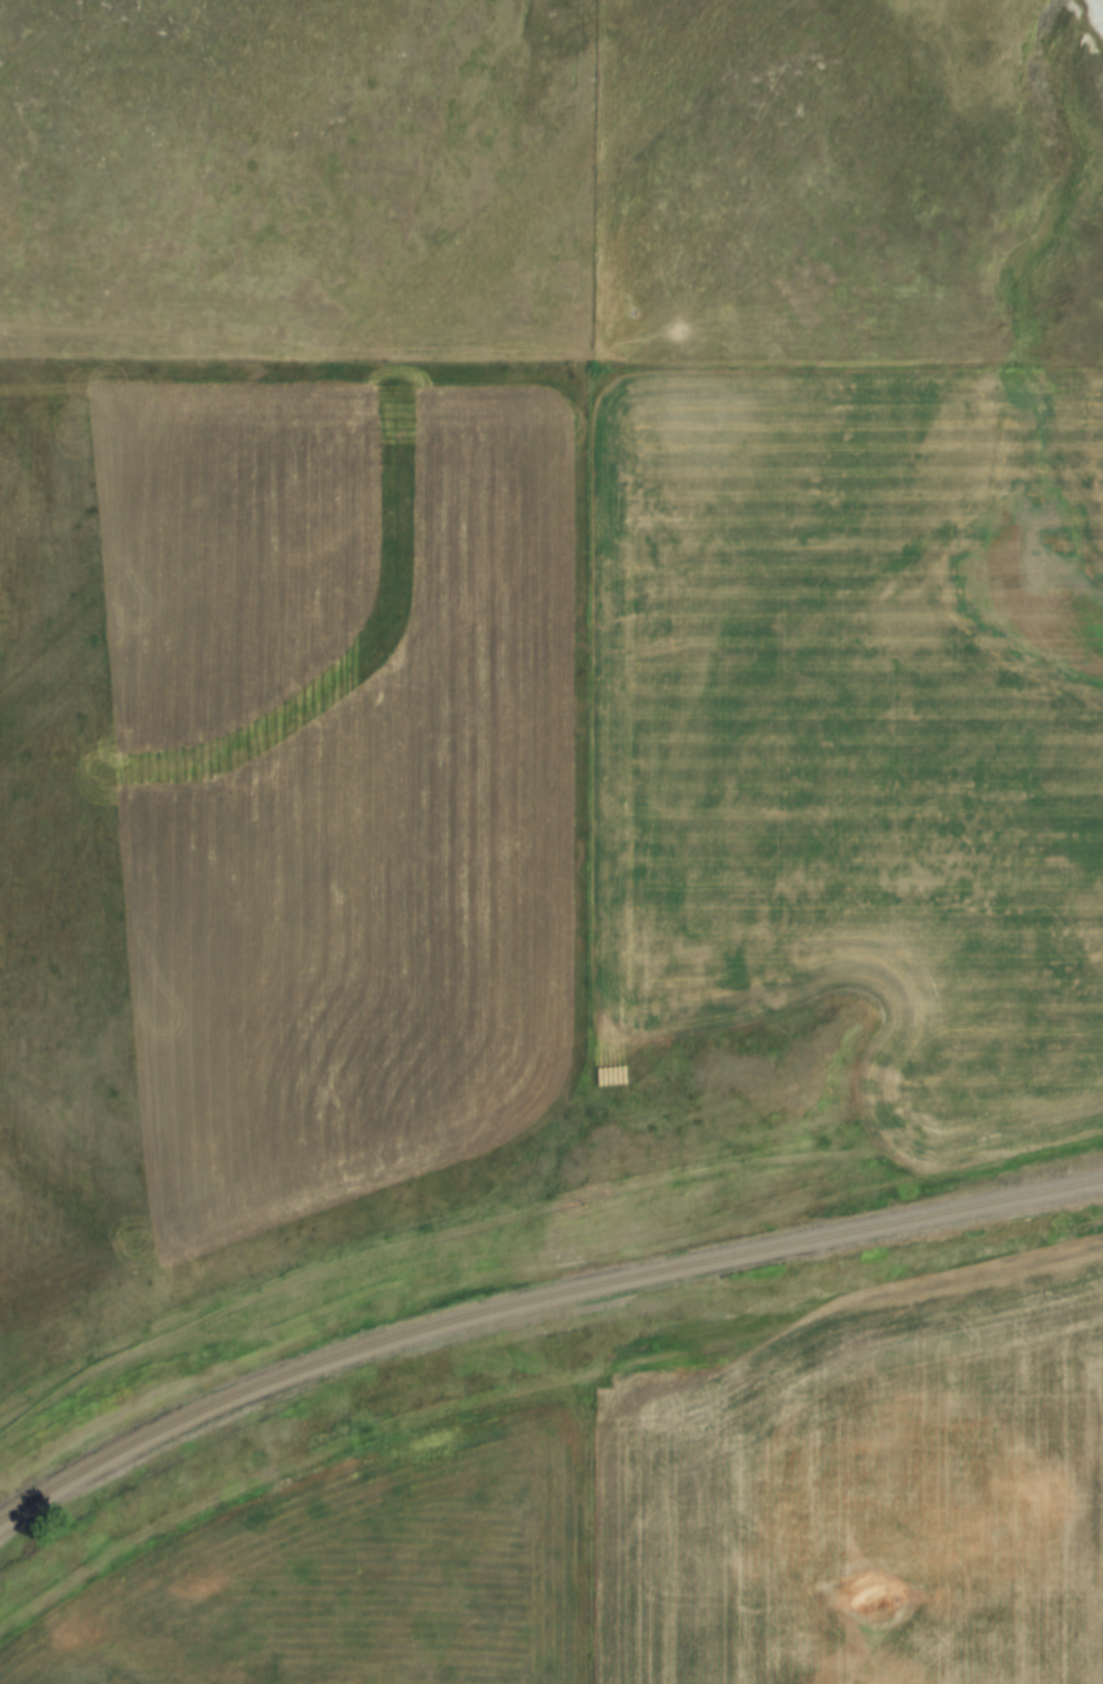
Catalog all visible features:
road: (178, 341)
railway: (534, 1301)

